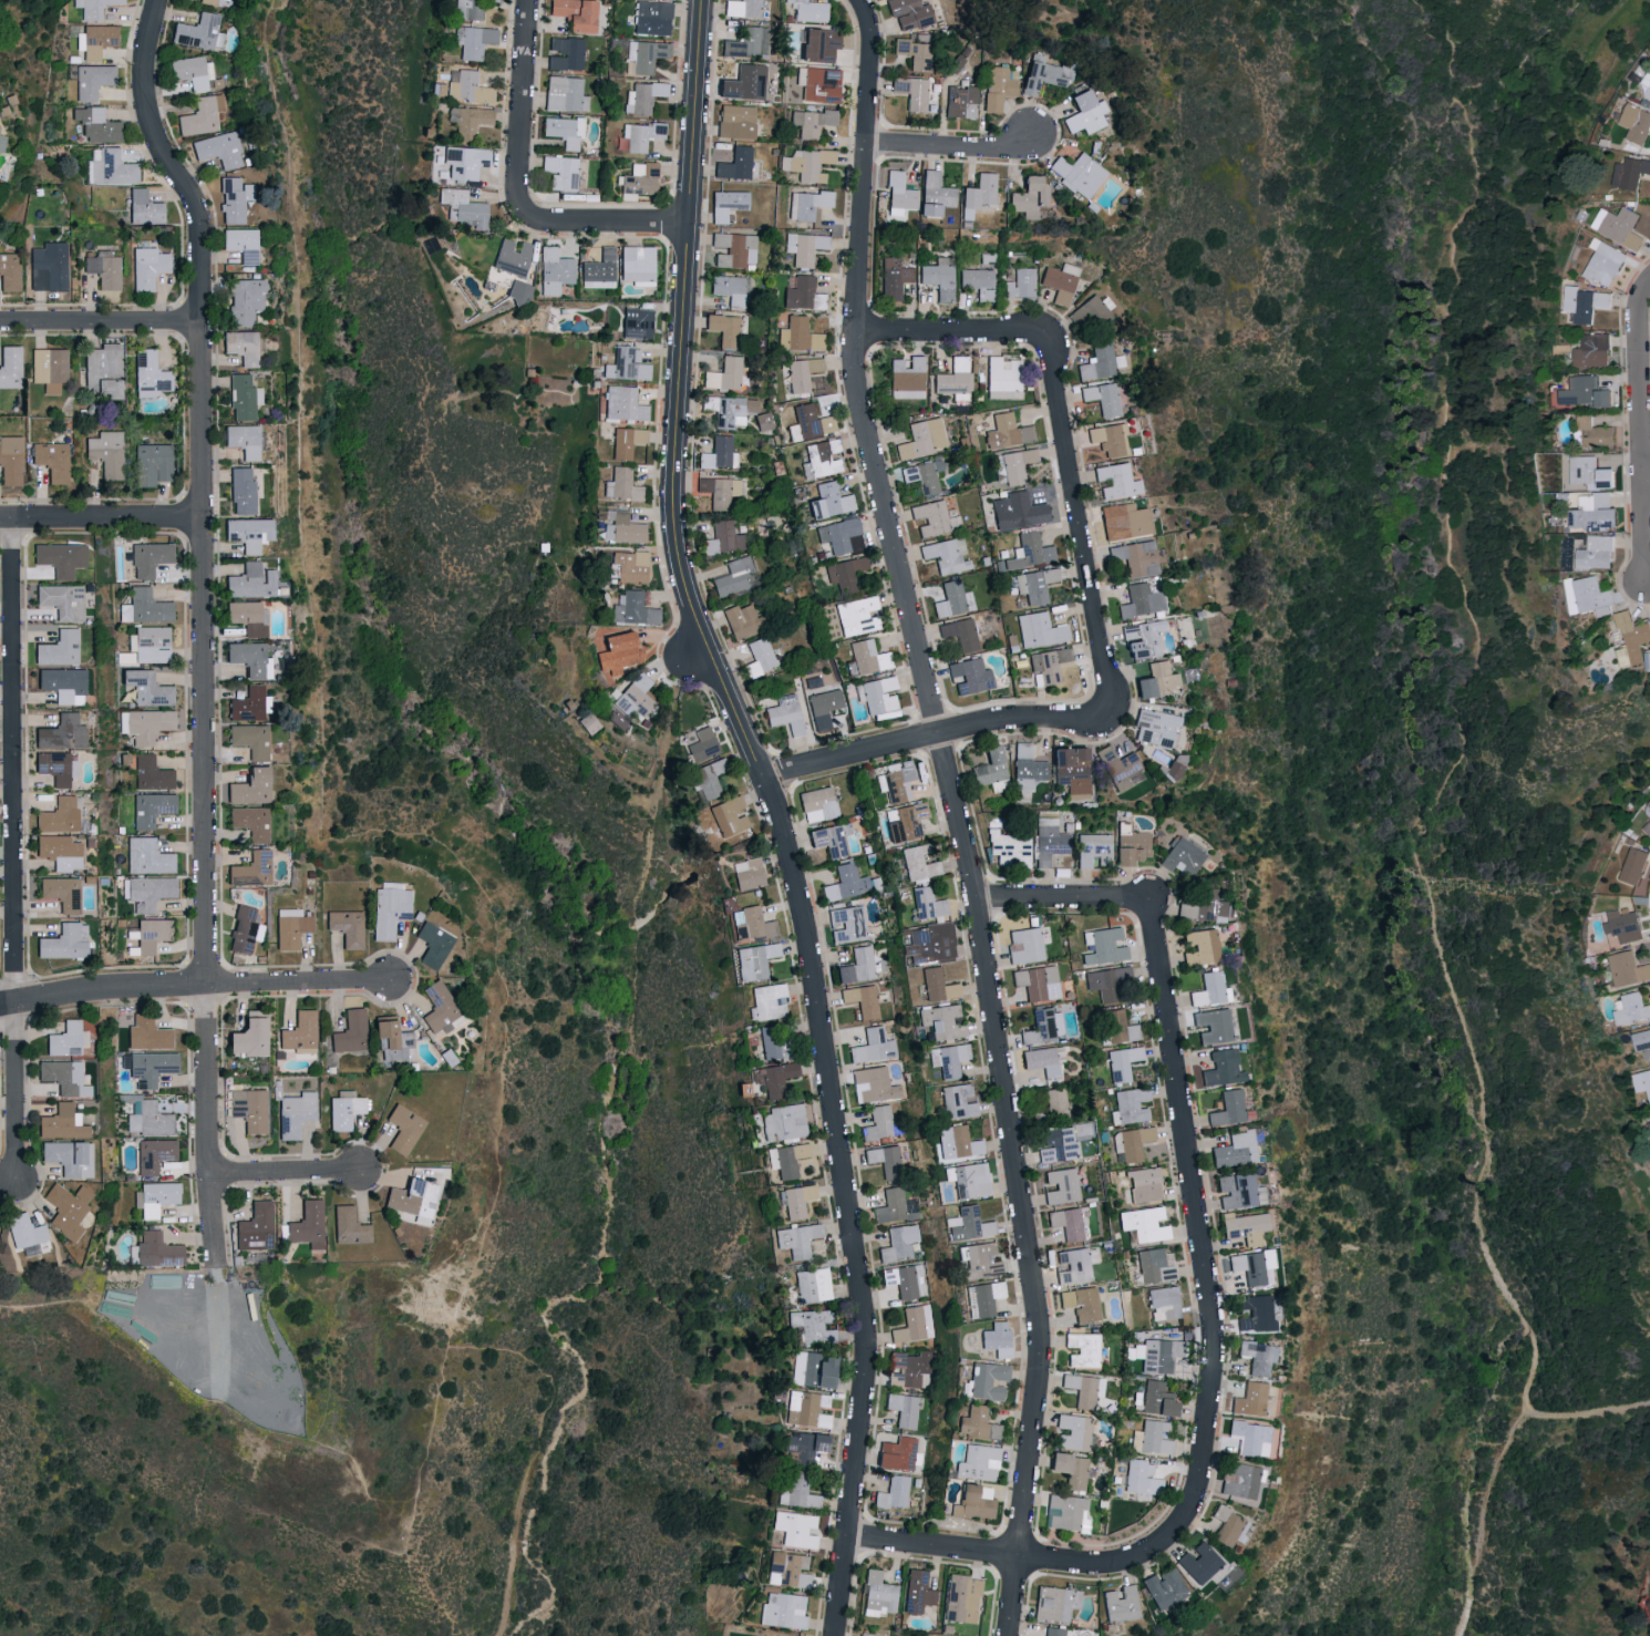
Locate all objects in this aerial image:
building: (207, 1)
building: (92, 8)
building: (472, 8)
building: (742, 8)
building: (809, 10)
building: (575, 13)
building: (910, 13)
building: (652, 17)
building: (198, 31)
building: (95, 40)
building: (473, 41)
building: (747, 42)
building: (818, 44)
building: (566, 52)
building: (915, 52)
building: (647, 54)
building: (194, 72)
building: (1044, 73)
building: (92, 80)
building: (744, 83)
building: (819, 83)
building: (1647, 84)
building: (999, 85)
building: (468, 86)
building: (565, 93)
building: (917, 94)
building: (643, 96)
building: (961, 101)
building: (1085, 113)
building: (202, 115)
road: (523, 117)
building: (735, 121)
building: (471, 122)
building: (812, 122)
building: (1636, 123)
building: (95, 124)
building: (564, 130)
building: (640, 134)
building: (1, 143)
road: (947, 143)
building: (219, 150)
road: (1373, 160)
building: (465, 163)
building: (734, 164)
building: (807, 164)
building: (113, 168)
building: (561, 171)
building: (1632, 172)
building: (1079, 174)
building: (638, 179)
building: (899, 194)
building: (935, 194)
building: (978, 194)
building: (1626, 195)
building: (1028, 197)
building: (234, 198)
building: (726, 204)
building: (809, 204)
building: (144, 208)
building: (465, 208)
road: (616, 224)
building: (1621, 228)
building: (240, 243)
building: (805, 247)
building: (735, 249)
building: (512, 256)
building: (637, 263)
building: (1603, 263)
building: (49, 266)
building: (147, 267)
building: (105, 269)
building: (599, 269)
building: (554, 270)
building: (9, 271)
building: (894, 277)
building: (939, 277)
building: (1061, 281)
building: (979, 282)
building: (1022, 282)
building: (729, 289)
building: (519, 291)
building: (803, 294)
building: (244, 300)
building: (1584, 303)
building: (1093, 311)
road: (100, 318)
building: (637, 322)
building: (724, 328)
building: (800, 335)
road: (945, 335)
building: (240, 346)
building: (1591, 351)
building: (1100, 362)
building: (626, 364)
building: (10, 367)
building: (51, 368)
building: (103, 370)
building: (151, 374)
building: (724, 374)
building: (801, 374)
building: (907, 378)
building: (955, 378)
building: (1003, 378)
building: (1584, 392)
building: (243, 397)
building: (1102, 398)
building: (623, 403)
building: (730, 409)
building: (762, 421)
building: (809, 422)
building: (1008, 431)
road: (1641, 433)
building: (1596, 435)
building: (921, 439)
building: (241, 440)
building: (1108, 440)
building: (627, 441)
building: (106, 452)
building: (720, 453)
building: (824, 456)
building: (10, 460)
building: (52, 461)
building: (153, 464)
building: (1018, 464)
building: (1589, 473)
road: (1646, 475)
building: (925, 476)
building: (1116, 481)
building: (621, 484)
building: (241, 491)
building: (716, 491)
building: (829, 501)
building: (1017, 511)
building: (1598, 511)
road: (1075, 512)
building: (936, 516)
building: (1576, 518)
building: (1124, 521)
road: (100, 522)
building: (621, 527)
building: (248, 533)
building: (838, 534)
building: (724, 537)
building: (1030, 551)
building: (1117, 554)
building: (1595, 554)
building: (947, 555)
building: (60, 558)
building: (149, 558)
building: (1141, 558)
building: (630, 566)
building: (845, 574)
building: (733, 576)
building: (249, 582)
building: (1035, 585)
building: (1587, 597)
building: (952, 599)
building: (61, 600)
building: (1141, 601)
building: (144, 607)
building: (635, 609)
building: (857, 616)
building: (246, 617)
building: (741, 620)
road: (200, 625)
building: (1040, 630)
building: (960, 634)
building: (1633, 637)
building: (1142, 639)
building: (152, 645)
building: (58, 648)
building: (616, 654)
building: (763, 655)
building: (868, 657)
building: (249, 658)
road: (694, 661)
building: (1048, 665)
road: (678, 675)
building: (970, 676)
building: (1163, 677)
building: (62, 685)
building: (146, 687)
building: (1144, 688)
building: (635, 697)
building: (878, 697)
building: (248, 704)
building: (823, 708)
building: (785, 717)
building: (145, 724)
building: (1156, 728)
building: (60, 733)
road: (943, 738)
building: (249, 740)
building: (702, 745)
road: (1461, 760)
building: (1116, 763)
building: (55, 766)
building: (991, 766)
building: (1027, 768)
building: (1072, 771)
building: (152, 773)
building: (708, 778)
building: (896, 780)
building: (248, 788)
building: (817, 804)
building: (1648, 806)
building: (151, 809)
road: (774, 813)
road: (958, 813)
building: (60, 815)
building: (728, 815)
building: (905, 821)
building: (250, 822)
building: (1647, 829)
building: (831, 838)
road: (327, 841)
building: (1049, 841)
building: (1131, 847)
building: (1008, 848)
building: (1092, 848)
road: (13, 852)
building: (59, 852)
building: (147, 856)
building: (1182, 857)
building: (918, 863)
building: (1632, 866)
building: (250, 870)
building: (746, 873)
building: (846, 883)
building: (149, 892)
building: (61, 893)
road: (1063, 901)
building: (927, 904)
building: (390, 908)
building: (750, 924)
building: (849, 924)
building: (1623, 926)
building: (291, 927)
building: (346, 927)
building: (244, 930)
building: (148, 936)
building: (63, 943)
building: (930, 944)
building: (433, 945)
building: (1025, 946)
building: (1103, 946)
building: (1198, 947)
building: (754, 960)
building: (857, 966)
building: (1627, 969)
road: (195, 981)
building: (1038, 982)
building: (937, 986)
building: (1112, 986)
building: (862, 1000)
building: (767, 1001)
building: (440, 1008)
building: (1632, 1009)
building: (942, 1021)
building: (1044, 1026)
building: (1210, 1026)
building: (1120, 1027)
building: (350, 1030)
building: (384, 1030)
building: (300, 1032)
building: (147, 1033)
building: (247, 1035)
building: (65, 1038)
building: (1641, 1040)
building: (771, 1043)
building: (401, 1046)
building: (874, 1046)
building: (947, 1059)
building: (1044, 1060)
building: (1123, 1062)
building: (151, 1067)
building: (1220, 1069)
building: (63, 1076)
building: (776, 1079)
building: (1642, 1082)
building: (874, 1085)
building: (958, 1102)
building: (1055, 1103)
building: (1132, 1104)
building: (249, 1108)
building: (344, 1109)
building: (1226, 1109)
building: (296, 1113)
building: (149, 1119)
building: (783, 1121)
building: (61, 1122)
building: (1649, 1122)
building: (879, 1123)
building: (404, 1128)
building: (1132, 1142)
building: (956, 1143)
building: (1056, 1144)
building: (1235, 1149)
building: (154, 1153)
building: (69, 1156)
building: (785, 1159)
building: (886, 1160)
road: (282, 1169)
road: (1193, 1176)
building: (970, 1180)
building: (1061, 1185)
building: (1144, 1185)
building: (1237, 1191)
building: (156, 1197)
building: (412, 1200)
building: (796, 1201)
building: (896, 1206)
building: (66, 1207)
building: (1068, 1222)
building: (967, 1223)
building: (1145, 1223)
building: (308, 1224)
building: (349, 1226)
building: (256, 1227)
building: (1244, 1227)
building: (24, 1231)
building: (796, 1238)
building: (899, 1242)
building: (156, 1249)
building: (980, 1259)
building: (1077, 1265)
building: (1156, 1265)
building: (1251, 1265)
building: (905, 1279)
building: (812, 1284)
building: (982, 1297)
building: (1164, 1300)
building: (1082, 1303)
building: (1257, 1314)
building: (915, 1323)
building: (812, 1326)
building: (997, 1338)
road: (512, 1347)
building: (1083, 1349)
building: (1158, 1354)
building: (1258, 1356)
building: (910, 1367)
building: (811, 1369)
building: (988, 1380)
building: (1083, 1389)
building: (1158, 1398)
building: (1250, 1398)
building: (806, 1408)
building: (904, 1408)
road: (1587, 1412)
building: (978, 1423)
building: (1073, 1432)
building: (1156, 1437)
building: (1250, 1437)
building: (803, 1445)
building: (899, 1453)
building: (977, 1462)
building: (1070, 1468)
building: (1142, 1476)
building: (1242, 1480)
building: (800, 1491)
building: (894, 1492)
building: (973, 1501)
road: (519, 1511)
building: (1066, 1512)
building: (794, 1526)
building: (1229, 1526)
building: (1198, 1562)
road: (1058, 1564)
building: (1164, 1587)
building: (917, 1591)
building: (879, 1594)
building: (961, 1598)
building: (1055, 1603)
building: (1121, 1604)
building: (783, 1609)
building: (1053, 1632)
building: (769, 1635)
building: (870, 1635)

